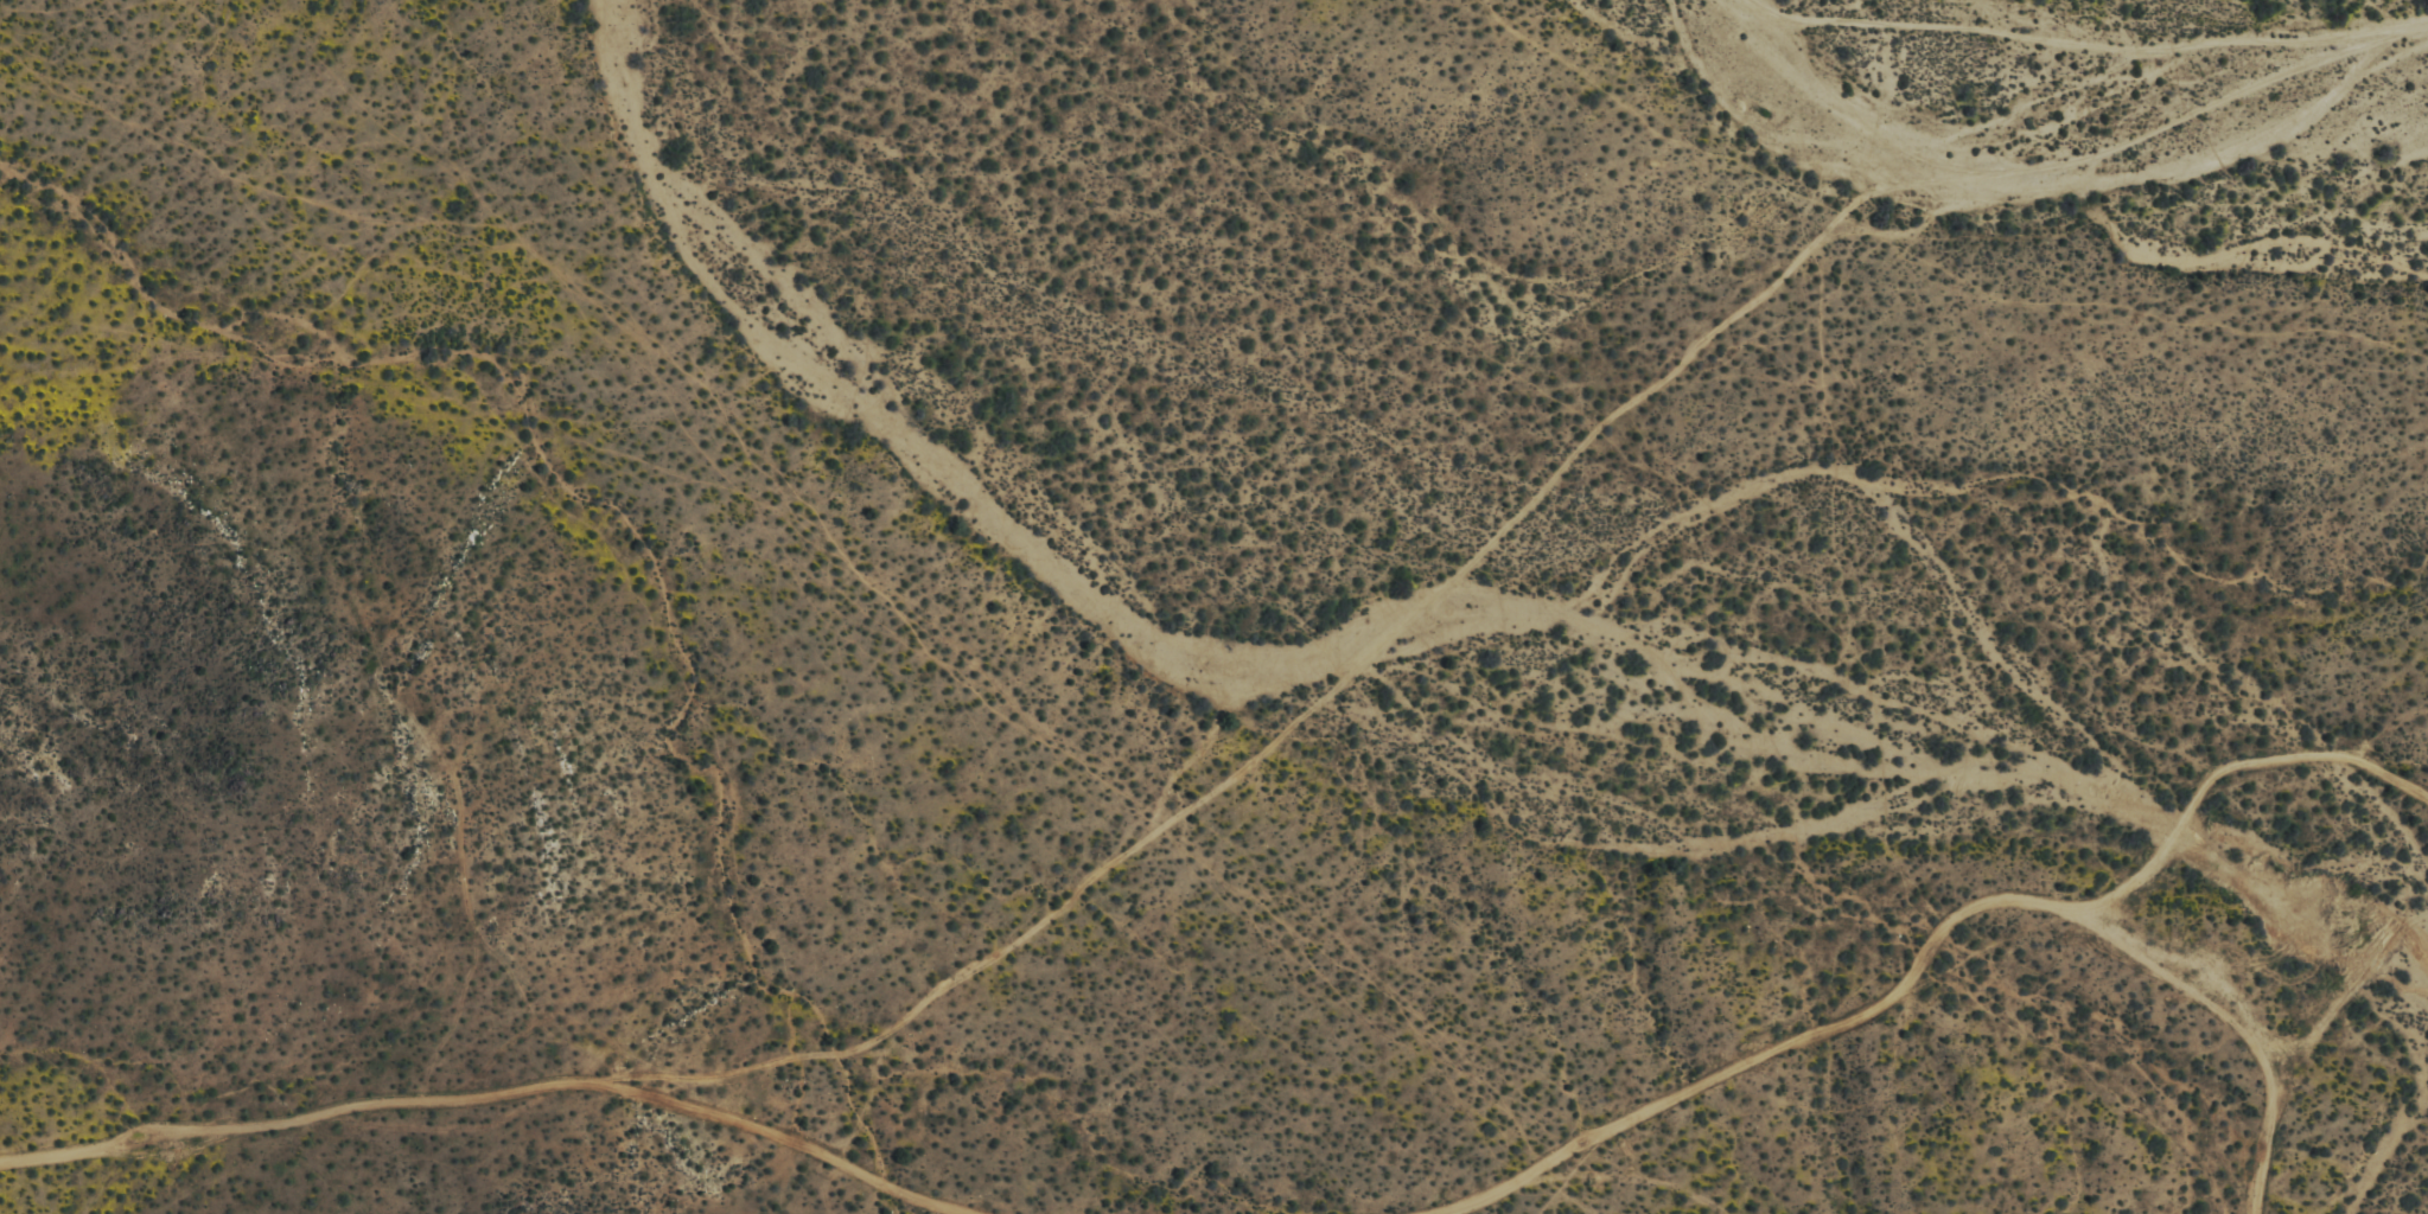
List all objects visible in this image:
road: (2386, 777)

